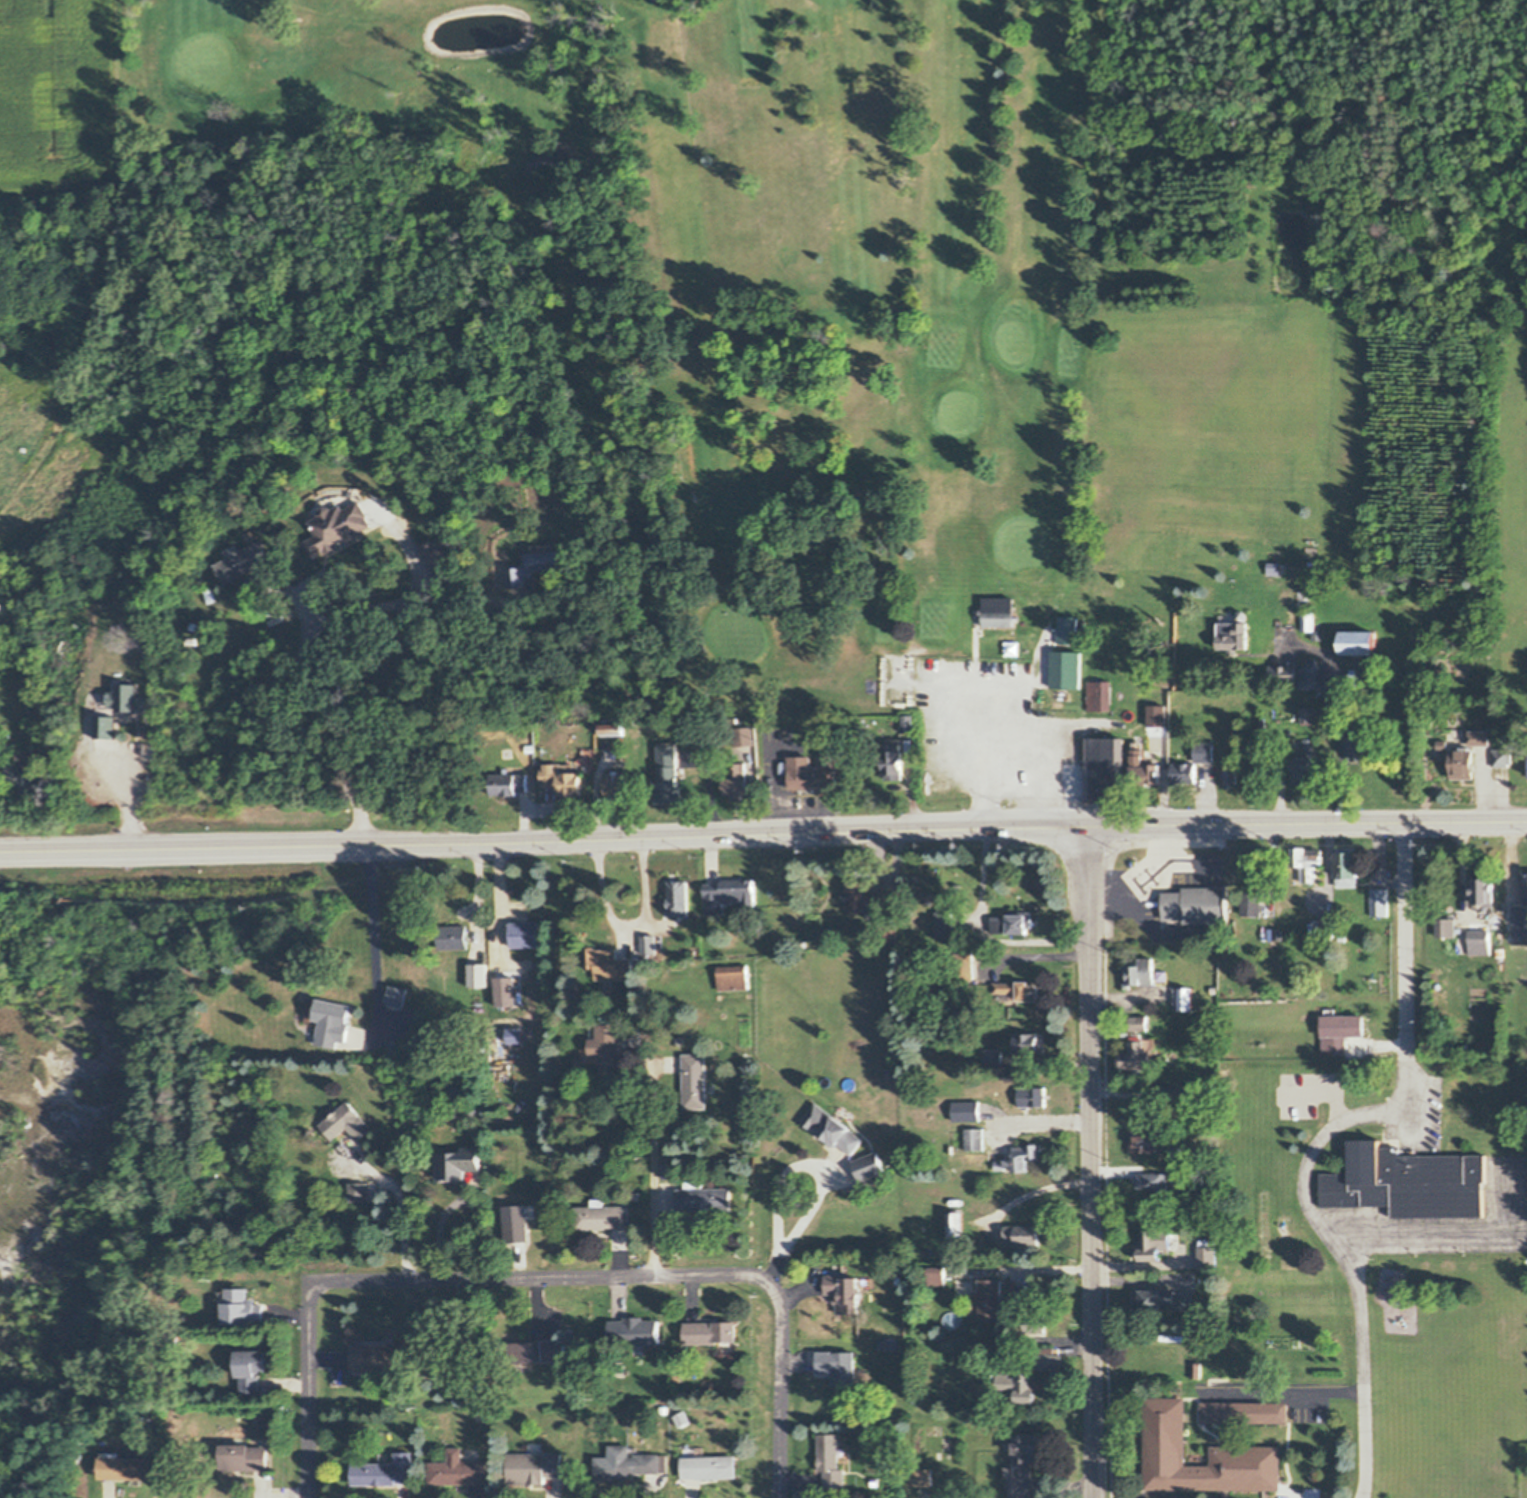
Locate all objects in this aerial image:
building: (1294, 212)
park: (785, 306)
building: (23, 449)
building: (342, 528)
building: (438, 554)
road: (413, 558)
building: (245, 560)
building: (533, 568)
building: (1517, 576)
building: (1000, 611)
building: (1243, 615)
building: (193, 625)
building: (1310, 625)
building: (1068, 629)
building: (1234, 637)
building: (192, 641)
building: (1358, 642)
building: (209, 653)
road: (299, 663)
building: (1071, 667)
building: (1283, 672)
building: (1309, 675)
building: (182, 690)
building: (1100, 695)
building: (125, 697)
building: (891, 697)
building: (1305, 714)
road: (1340, 717)
building: (908, 723)
building: (106, 726)
building: (612, 728)
building: (727, 728)
building: (140, 729)
building: (744, 735)
building: (1479, 737)
building: (1457, 738)
building: (1364, 744)
building: (1463, 746)
building: (572, 750)
building: (1205, 752)
building: (649, 755)
building: (1502, 756)
road: (1009, 757)
building: (893, 761)
building: (1463, 764)
building: (1107, 769)
building: (1145, 769)
building: (1303, 769)
building: (815, 772)
building: (1185, 773)
building: (1232, 775)
building: (21, 776)
building: (671, 776)
building: (563, 779)
building: (737, 781)
building: (509, 783)
building: (614, 784)
road: (123, 796)
building: (616, 797)
road: (867, 833)
road: (103, 850)
building: (1309, 862)
building: (1259, 868)
building: (1347, 868)
building: (917, 876)
building: (1525, 884)
building: (1484, 889)
building: (728, 894)
building: (679, 897)
building: (867, 899)
building: (1379, 902)
building: (1253, 903)
building: (1196, 904)
building: (1480, 905)
building: (1509, 913)
building: (946, 922)
building: (1519, 922)
road: (622, 923)
building: (1011, 924)
building: (1446, 924)
building: (1328, 925)
building: (887, 932)
building: (525, 934)
building: (1277, 934)
building: (453, 937)
road: (376, 938)
building: (1342, 940)
building: (1481, 942)
building: (649, 944)
building: (803, 944)
road: (1037, 951)
building: (1500, 953)
building: (916, 954)
building: (608, 963)
building: (1491, 963)
building: (964, 965)
building: (1141, 972)
building: (477, 973)
building: (733, 977)
building: (1162, 977)
building: (543, 980)
building: (1476, 982)
building: (1020, 989)
building: (1214, 989)
building: (506, 991)
building: (998, 994)
building: (397, 995)
building: (1184, 998)
building: (1327, 1010)
building: (316, 1014)
building: (335, 1021)
building: (1140, 1023)
building: (1461, 1023)
building: (646, 1024)
building: (1471, 1027)
building: (1341, 1030)
building: (1466, 1033)
building: (515, 1035)
building: (680, 1039)
building: (1030, 1043)
building: (394, 1048)
building: (607, 1048)
building: (1137, 1057)
building: (995, 1058)
building: (888, 1073)
building: (694, 1080)
building: (710, 1087)
building: (199, 1091)
building: (1177, 1092)
building: (1033, 1096)
building: (472, 1110)
building: (967, 1110)
building: (843, 1113)
road: (1046, 1115)
building: (345, 1123)
building: (833, 1127)
building: (312, 1130)
building: (959, 1138)
building: (976, 1139)
building: (1145, 1140)
road: (1321, 1140)
building: (951, 1149)
building: (1019, 1157)
road: (1092, 1162)
building: (458, 1164)
building: (870, 1165)
road: (814, 1166)
building: (667, 1170)
road: (652, 1171)
building: (1152, 1180)
building: (1411, 1182)
building: (358, 1192)
building: (636, 1197)
building: (705, 1199)
building: (282, 1200)
road: (399, 1203)
building: (601, 1216)
building: (517, 1223)
building: (956, 1224)
building: (1023, 1235)
building: (1154, 1243)
building: (1207, 1256)
road: (1023, 1270)
building: (936, 1275)
road: (542, 1278)
building: (899, 1280)
building: (845, 1293)
building: (223, 1297)
building: (992, 1299)
building: (1163, 1299)
building: (241, 1306)
building: (952, 1320)
building: (1036, 1320)
building: (635, 1332)
building: (710, 1332)
building: (1167, 1338)
building: (890, 1343)
building: (640, 1346)
building: (725, 1347)
building: (541, 1350)
building: (379, 1357)
building: (1049, 1359)
building: (519, 1365)
building: (839, 1365)
building: (249, 1370)
building: (1196, 1370)
building: (1019, 1384)
road: (781, 1391)
road: (310, 1395)
building: (665, 1409)
building: (1244, 1412)
building: (900, 1417)
building: (683, 1418)
building: (262, 1419)
building: (1165, 1421)
building: (946, 1456)
building: (243, 1457)
building: (831, 1459)
building: (625, 1463)
building: (664, 1463)
building: (1023, 1465)
building: (535, 1466)
building: (709, 1466)
building: (126, 1468)
building: (457, 1469)
building: (385, 1471)
building: (923, 1476)
building: (876, 1482)

